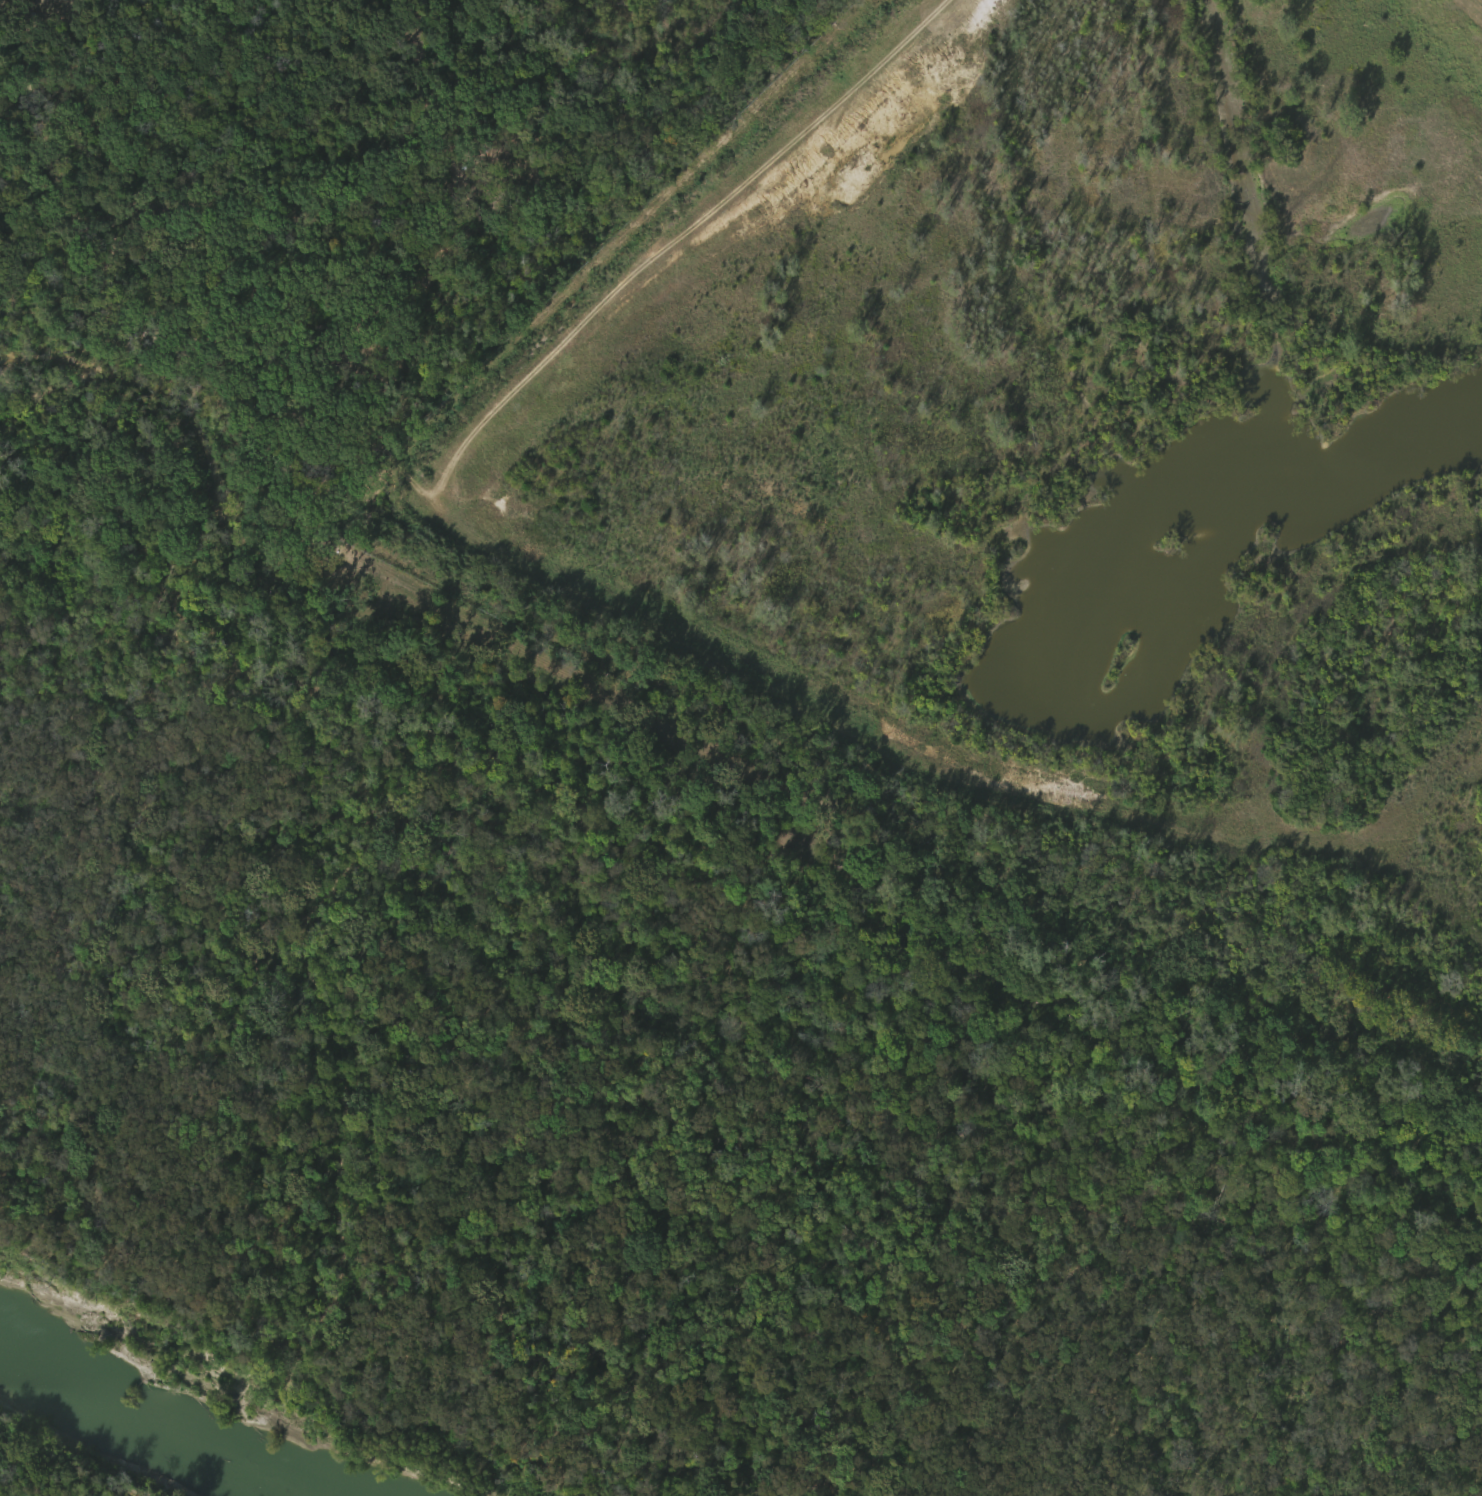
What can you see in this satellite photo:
river: (214, 1425)

